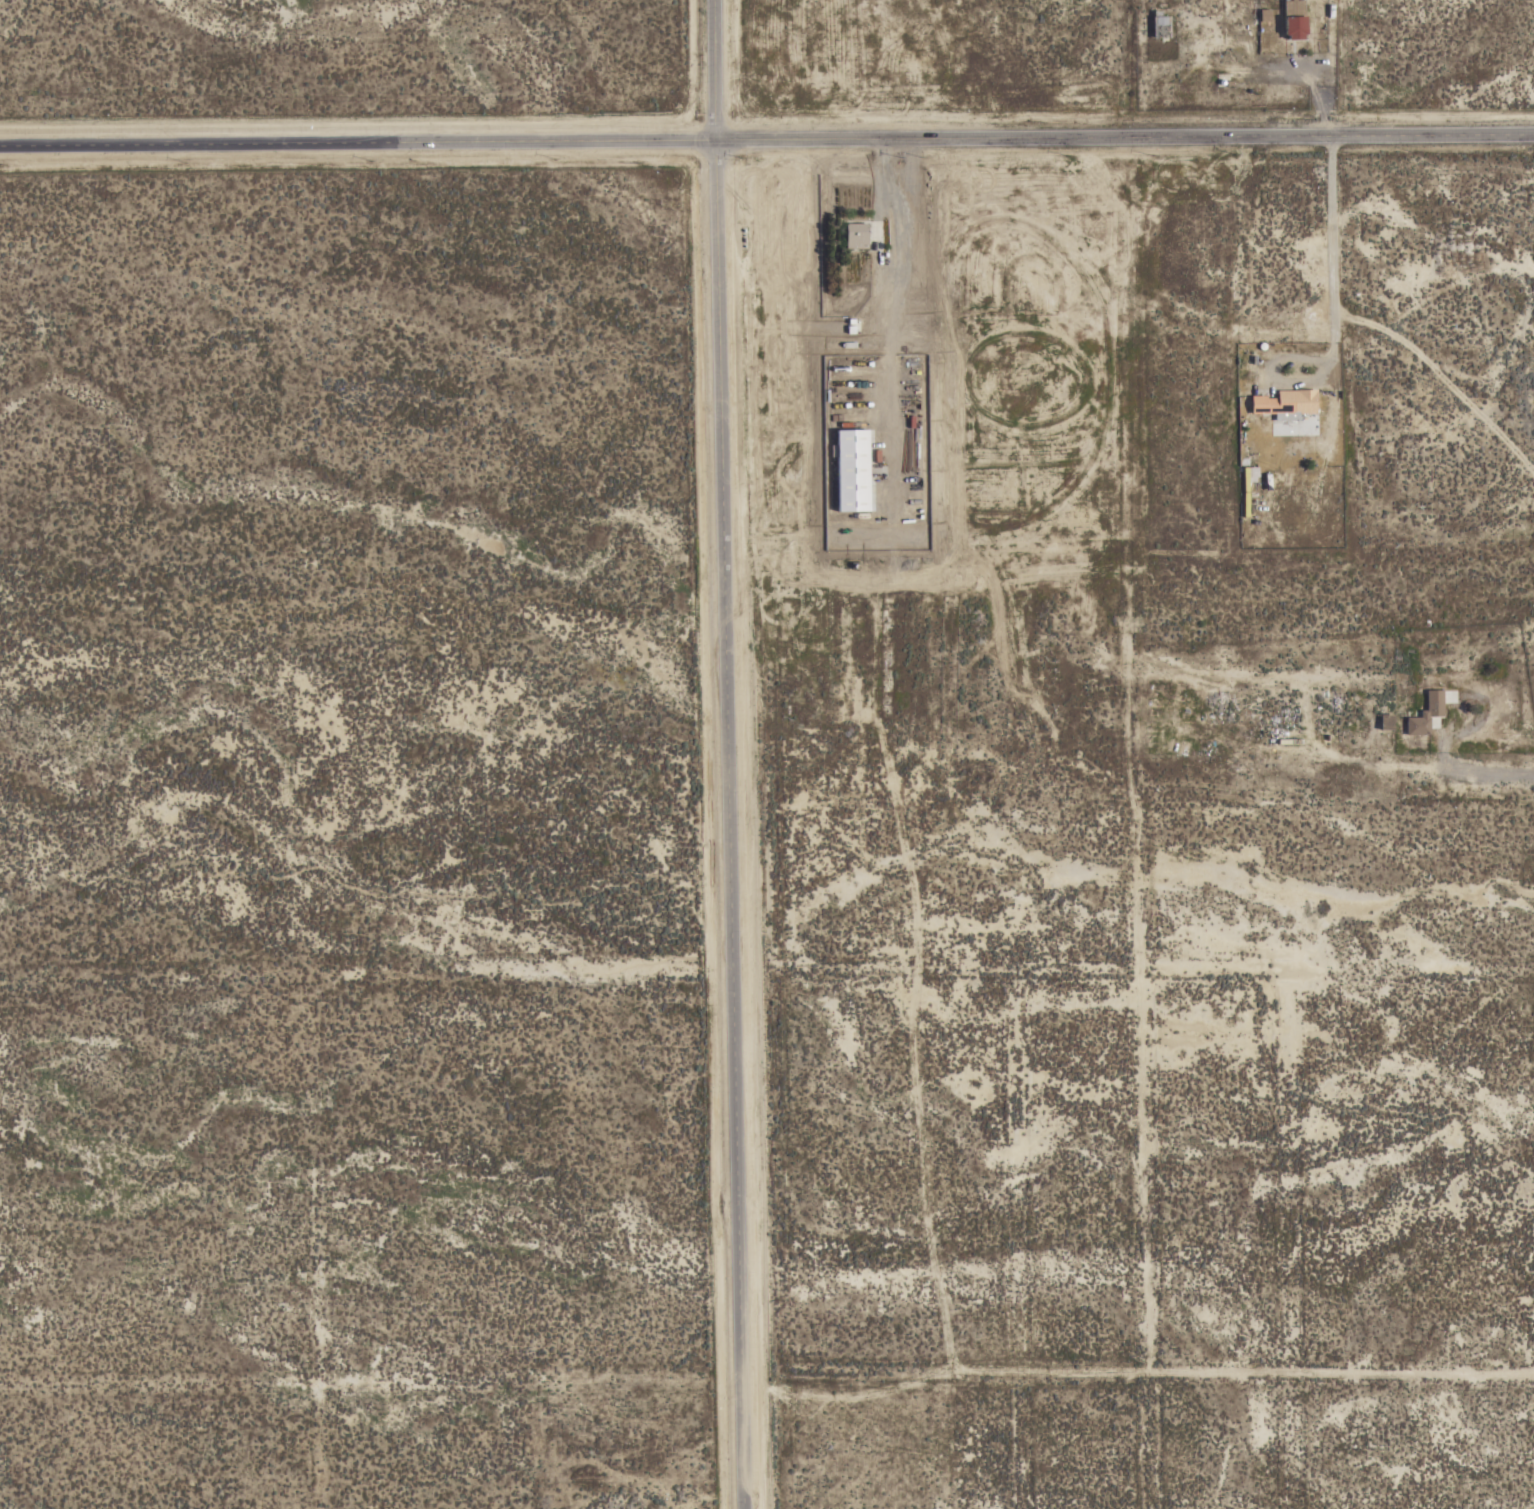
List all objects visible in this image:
building: (1264, 14)
building: (1294, 18)
building: (1160, 25)
road: (767, 138)
building: (856, 235)
road: (896, 245)
road: (1332, 254)
building: (1285, 403)
road: (891, 421)
building: (1243, 445)
building: (852, 470)
building: (1425, 713)
building: (1386, 721)
road: (731, 754)
road: (1475, 774)

